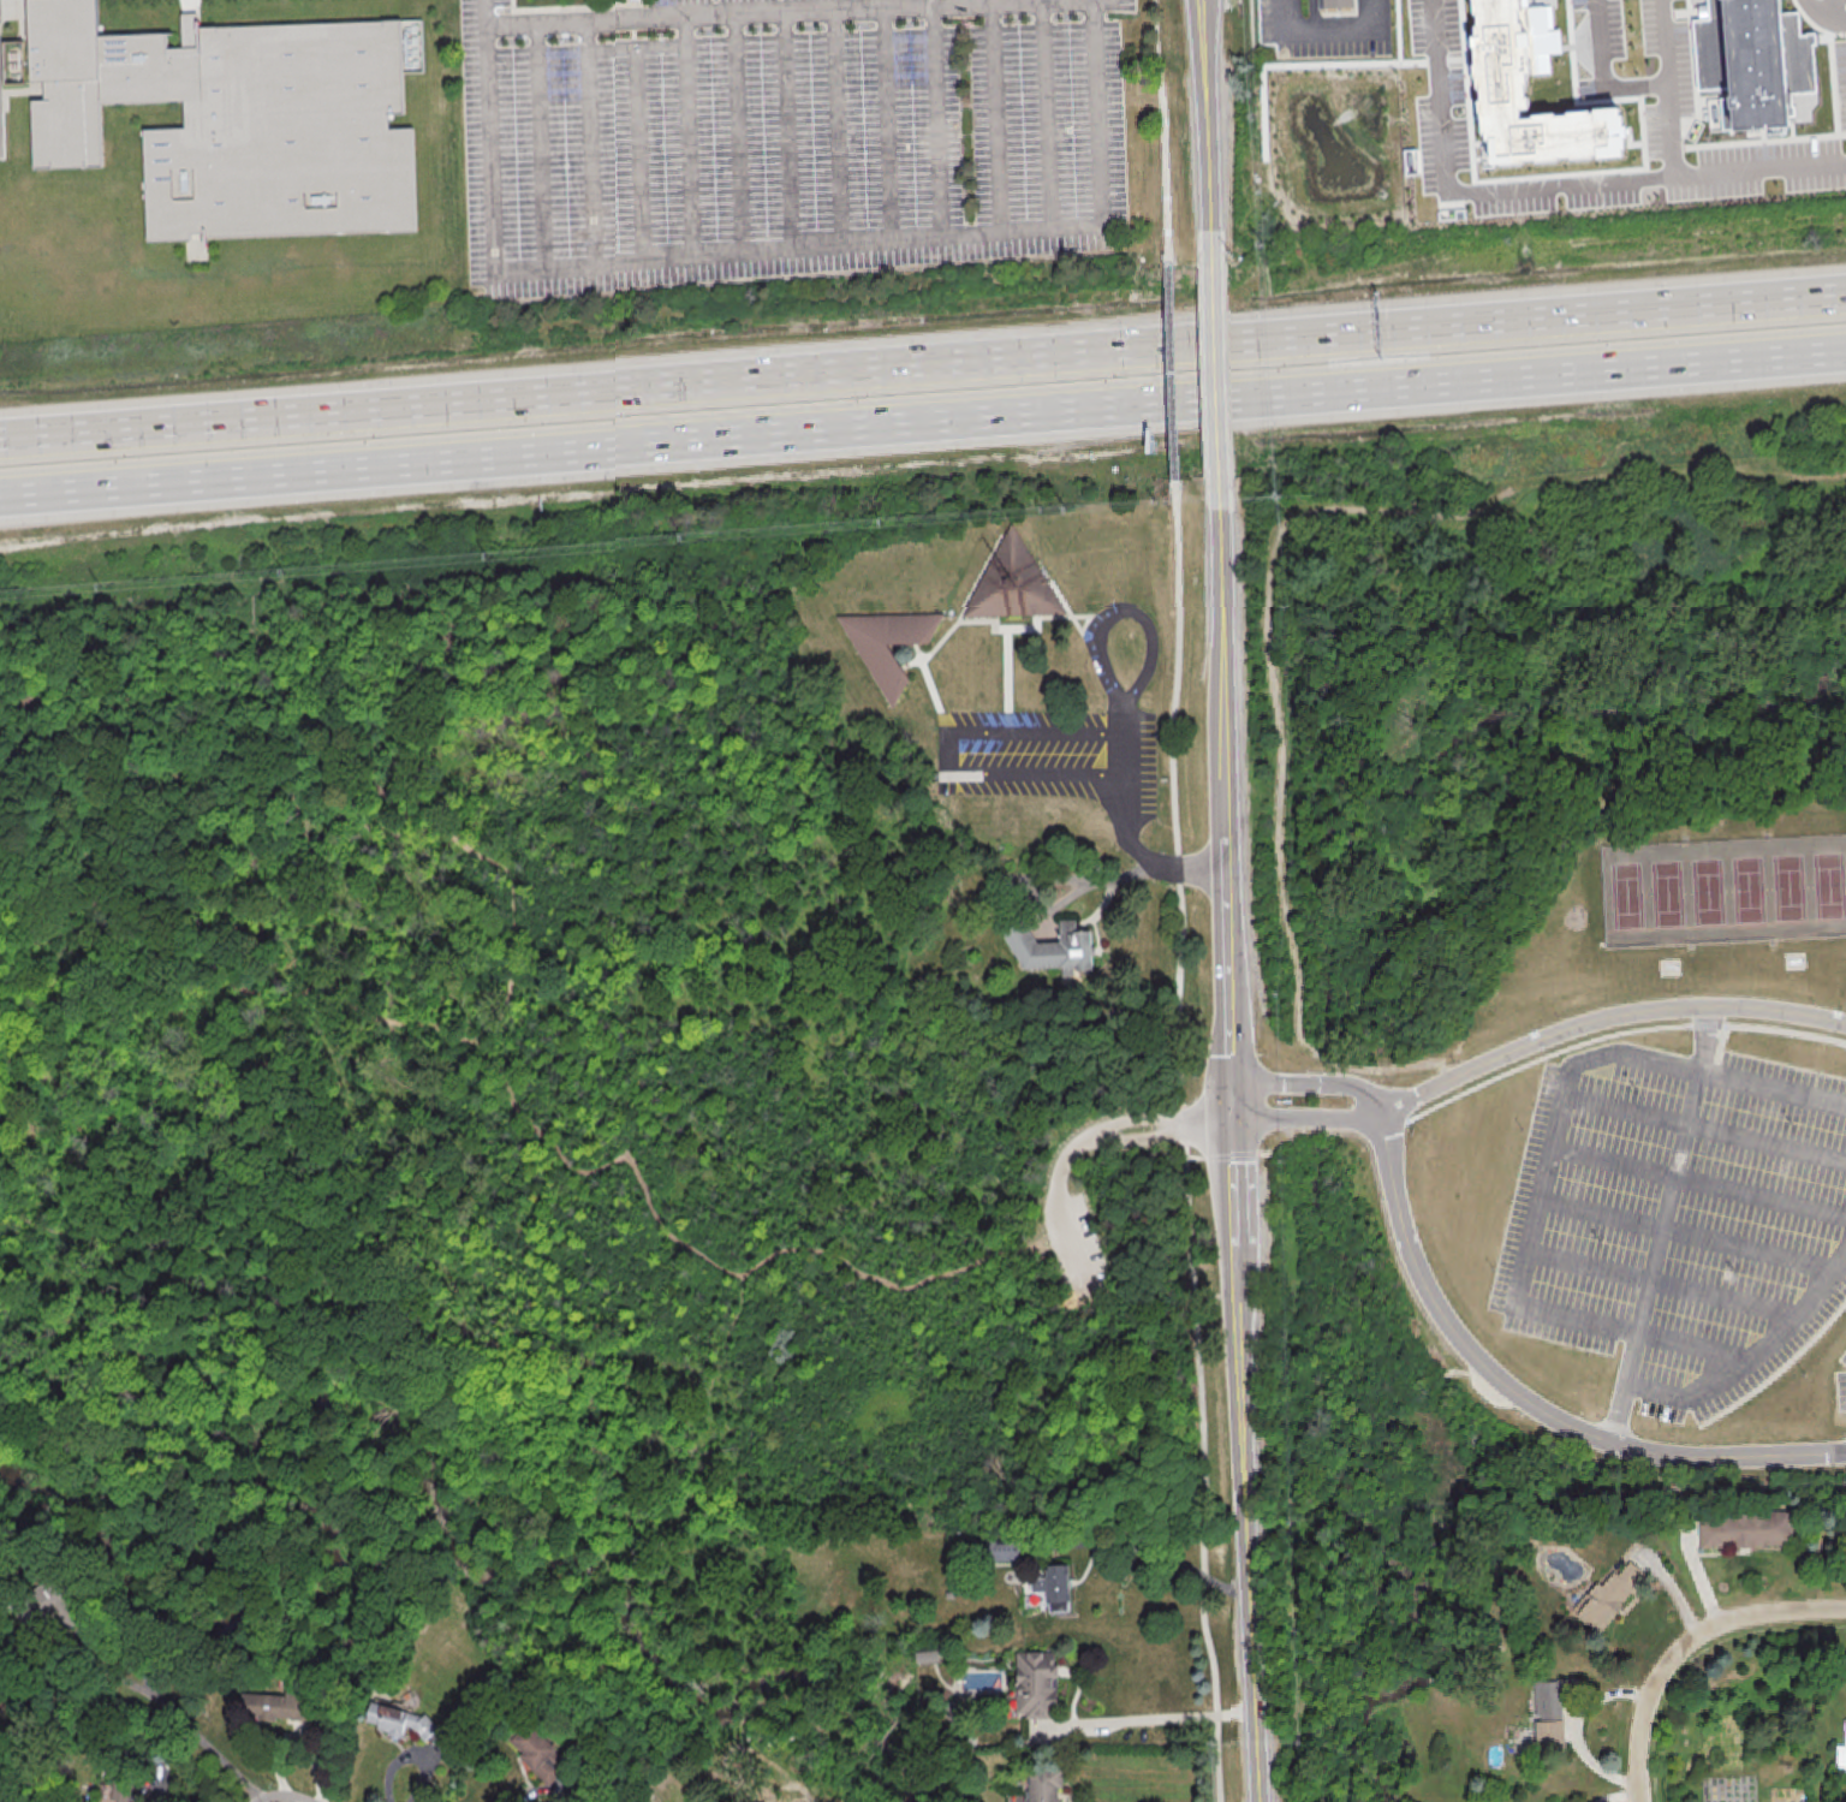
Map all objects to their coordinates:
building: (1333, 5)
road: (1835, 8)
road: (787, 11)
road: (1322, 31)
road: (633, 48)
building: (1763, 63)
road: (1632, 83)
building: (1501, 90)
road: (1047, 117)
road: (996, 119)
building: (244, 121)
road: (937, 123)
road: (887, 125)
road: (836, 129)
road: (1669, 129)
road: (1162, 130)
road: (788, 131)
road: (738, 133)
road: (1208, 135)
road: (687, 137)
parking lot: (784, 137)
road: (586, 142)
road: (540, 145)
road: (641, 155)
road: (1554, 185)
road: (779, 250)
road: (923, 365)
road: (1172, 371)
road: (1215, 374)
road: (922, 423)
road: (1269, 577)
building: (1012, 587)
building: (877, 664)
road: (1174, 666)
road: (1121, 710)
road: (949, 751)
road: (328, 769)
road: (1697, 779)
road: (1770, 795)
road: (1226, 799)
park: (1828, 887)
park: (1791, 891)
park: (1750, 892)
park: (1710, 894)
park: (1669, 897)
park: (1625, 899)
park: (1578, 920)
building: (1050, 947)
stadium: (1797, 964)
stadium: (1672, 973)
road: (1179, 987)
road: (1602, 1018)
road: (1708, 1027)
road: (1786, 1033)
road: (1530, 1064)
road: (1315, 1086)
park: (520, 1093)
road: (1139, 1118)
road: (1306, 1119)
traffic signals: (1234, 1123)
road: (1209, 1124)
road: (1707, 1131)
road: (540, 1135)
road: (1141, 1137)
road: (883, 1156)
road: (1064, 1161)
road: (1701, 1184)
building: (1026, 1205)
parking lot: (1680, 1224)
road: (1666, 1226)
road: (1690, 1236)
road: (1535, 1237)
road: (1074, 1244)
parking lot: (1076, 1245)
road: (1665, 1286)
road: (720, 1357)
road: (1779, 1376)
parking lot: (1842, 1394)
road: (1693, 1399)
road: (1526, 1403)
road: (1246, 1462)
road: (1199, 1463)
building: (1745, 1533)
road: (1148, 1551)
building: (1005, 1552)
building: (1054, 1586)
building: (1609, 1599)
road: (1685, 1646)
building: (1036, 1683)
building: (275, 1706)
building: (1553, 1712)
building: (399, 1719)
road: (1149, 1721)
road: (196, 1733)
building: (538, 1752)
building: (1841, 1761)
building: (1043, 1786)
building: (125, 1792)
road: (161, 1795)
road: (556, 1798)

